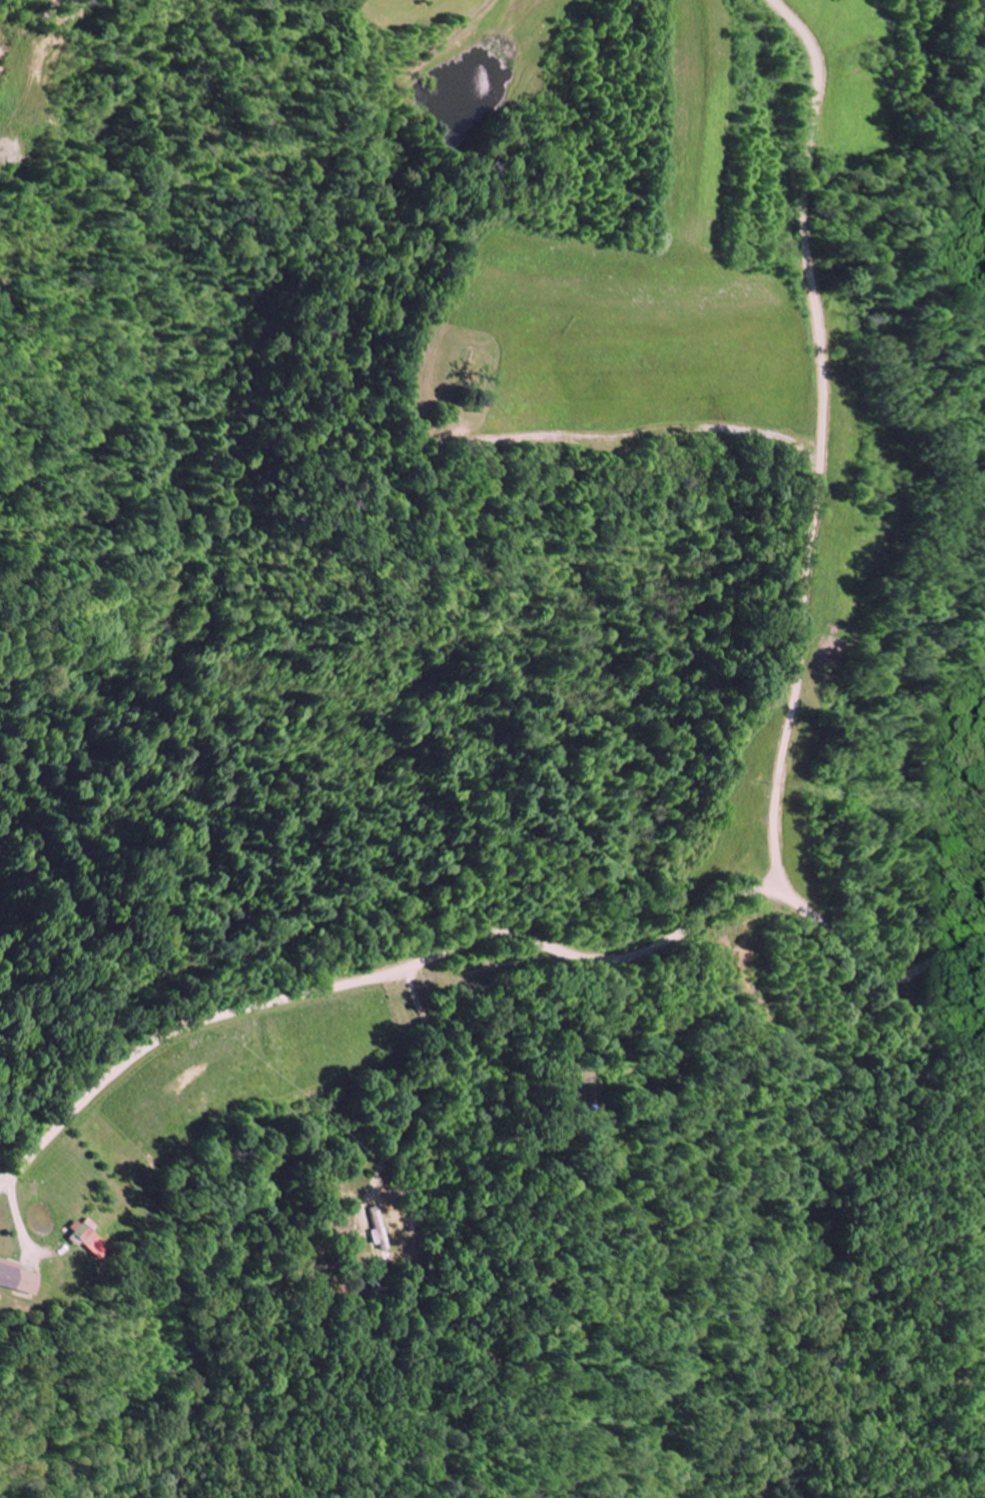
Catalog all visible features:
road: (820, 442)
road: (492, 939)
building: (74, 1234)
building: (10, 1280)

